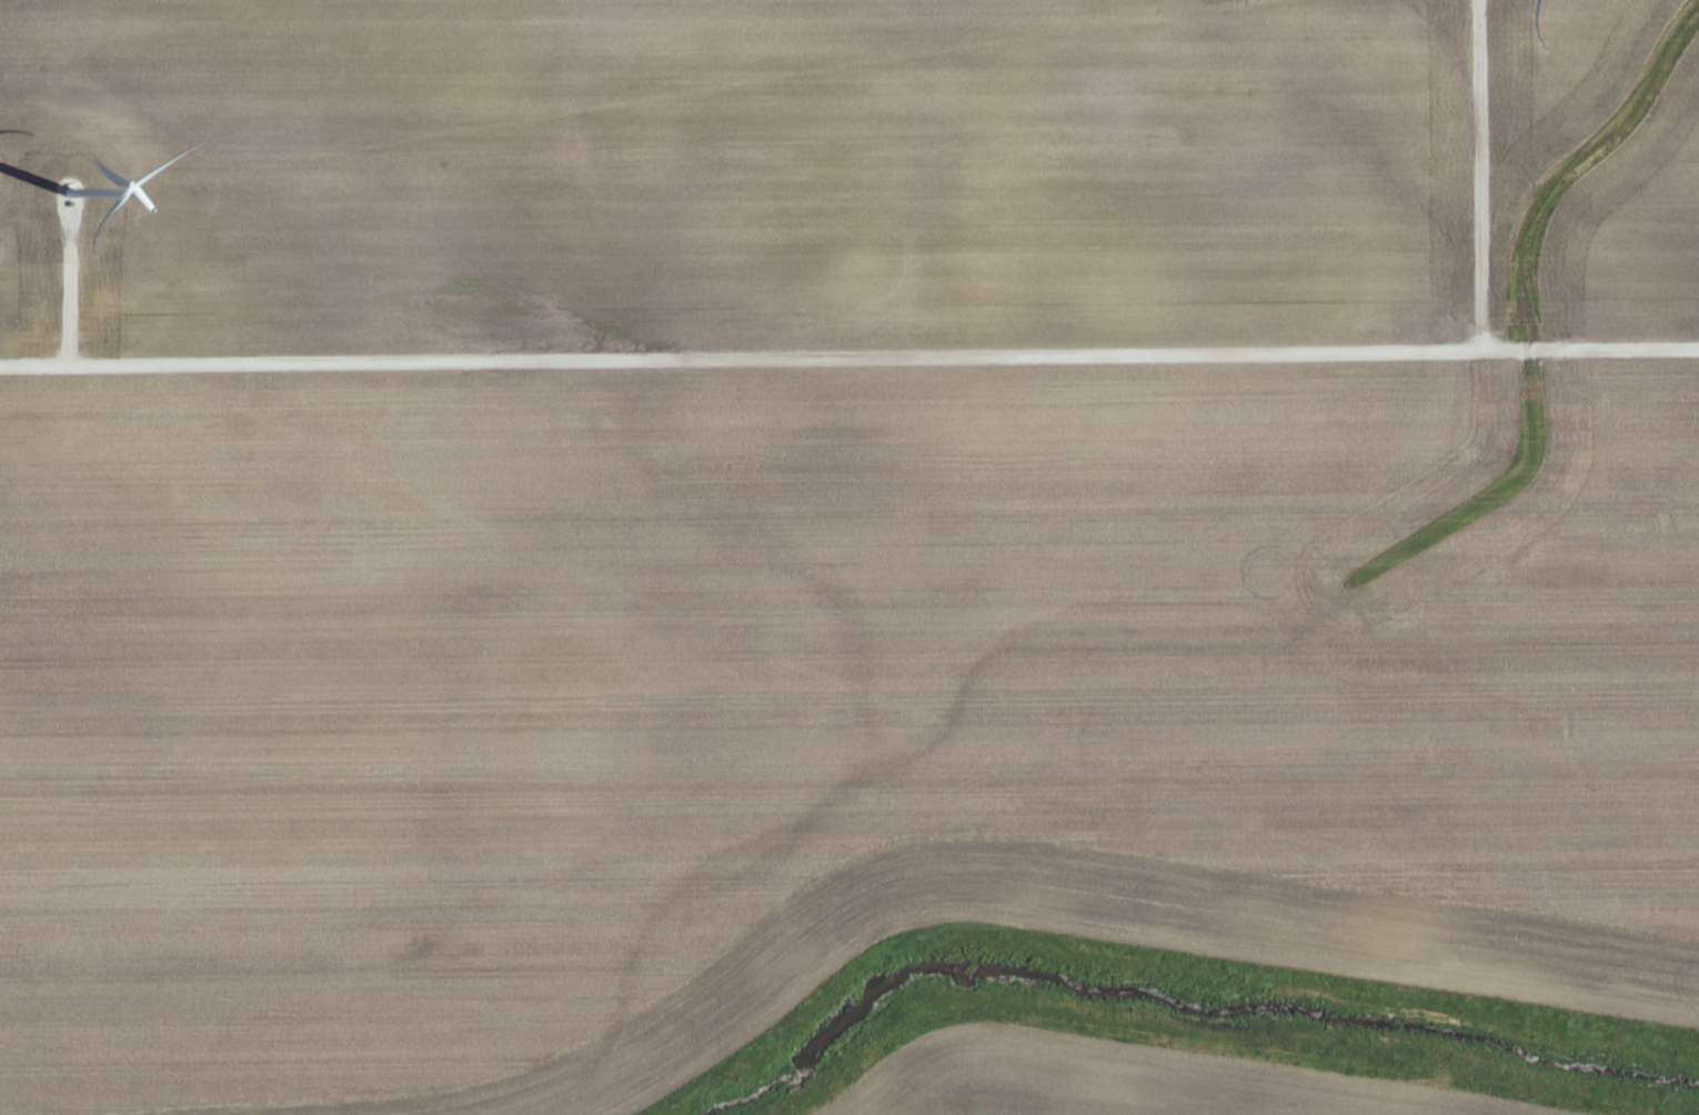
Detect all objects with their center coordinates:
road: (1481, 175)
wind turbine: (68, 208)
road: (70, 289)
road: (849, 356)

